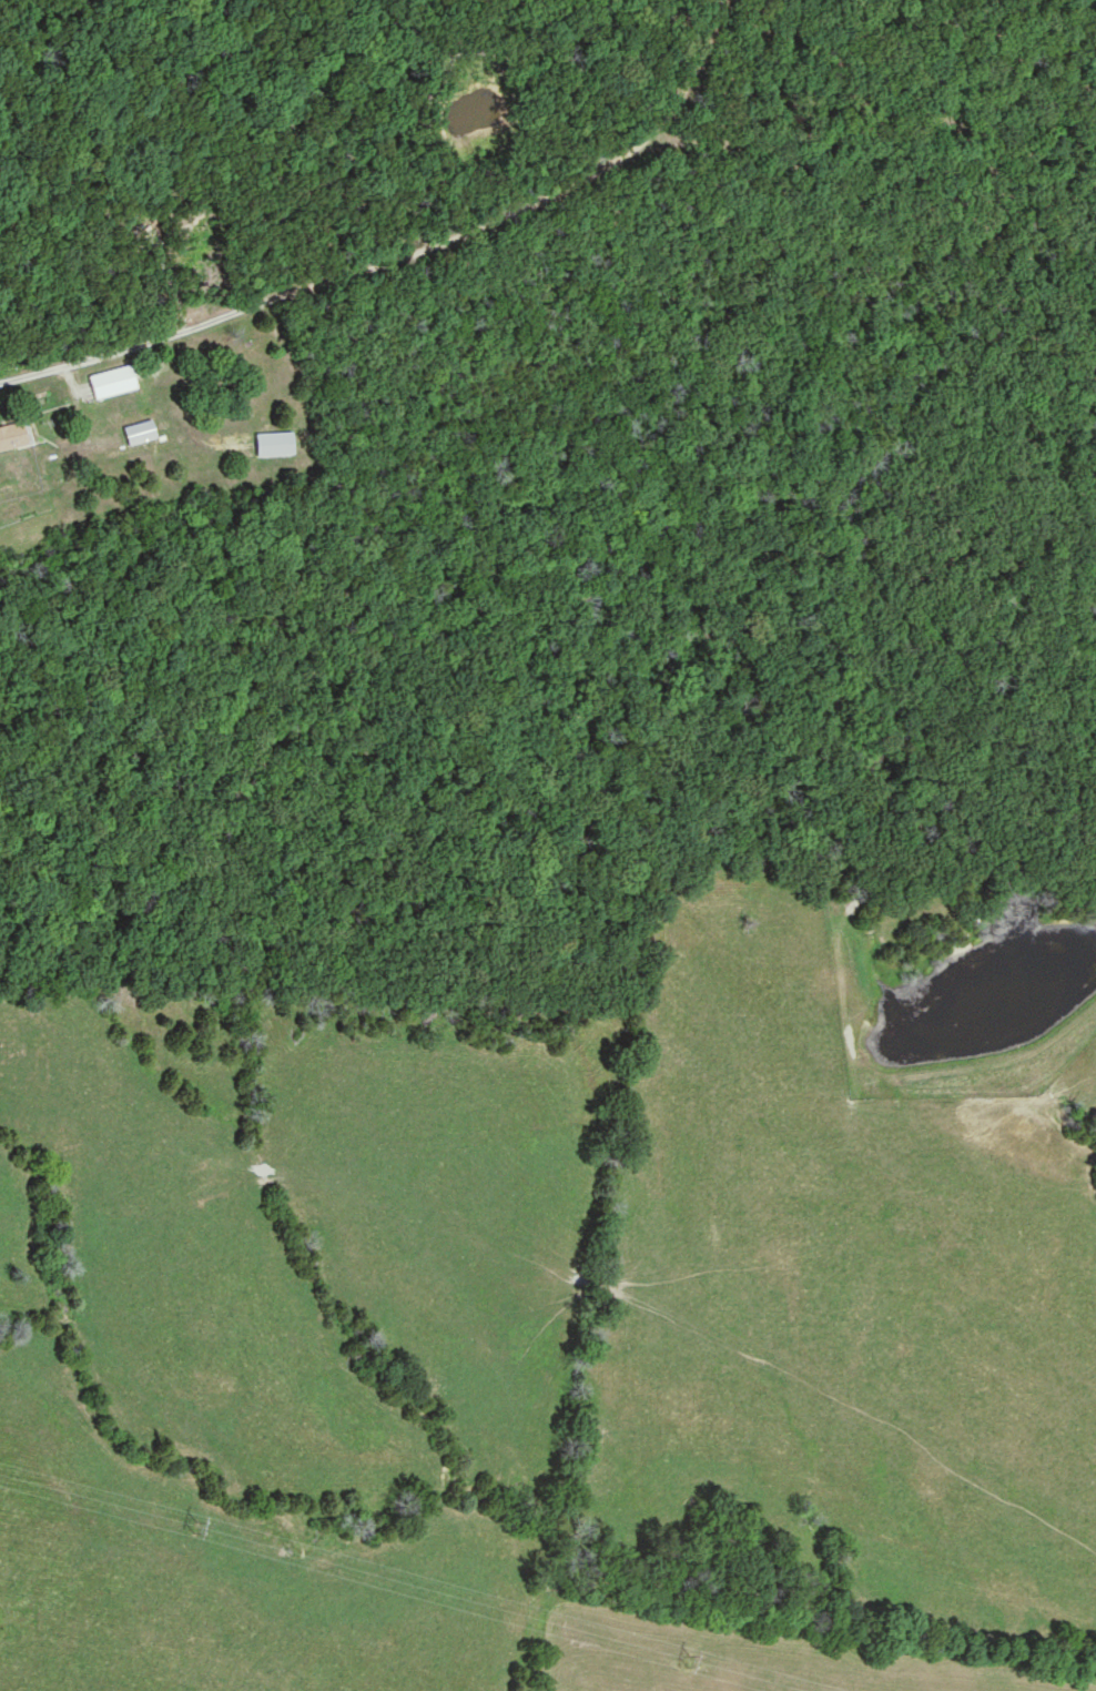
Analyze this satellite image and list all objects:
road: (412, 253)
building: (114, 383)
building: (141, 433)
building: (14, 436)
building: (276, 444)

